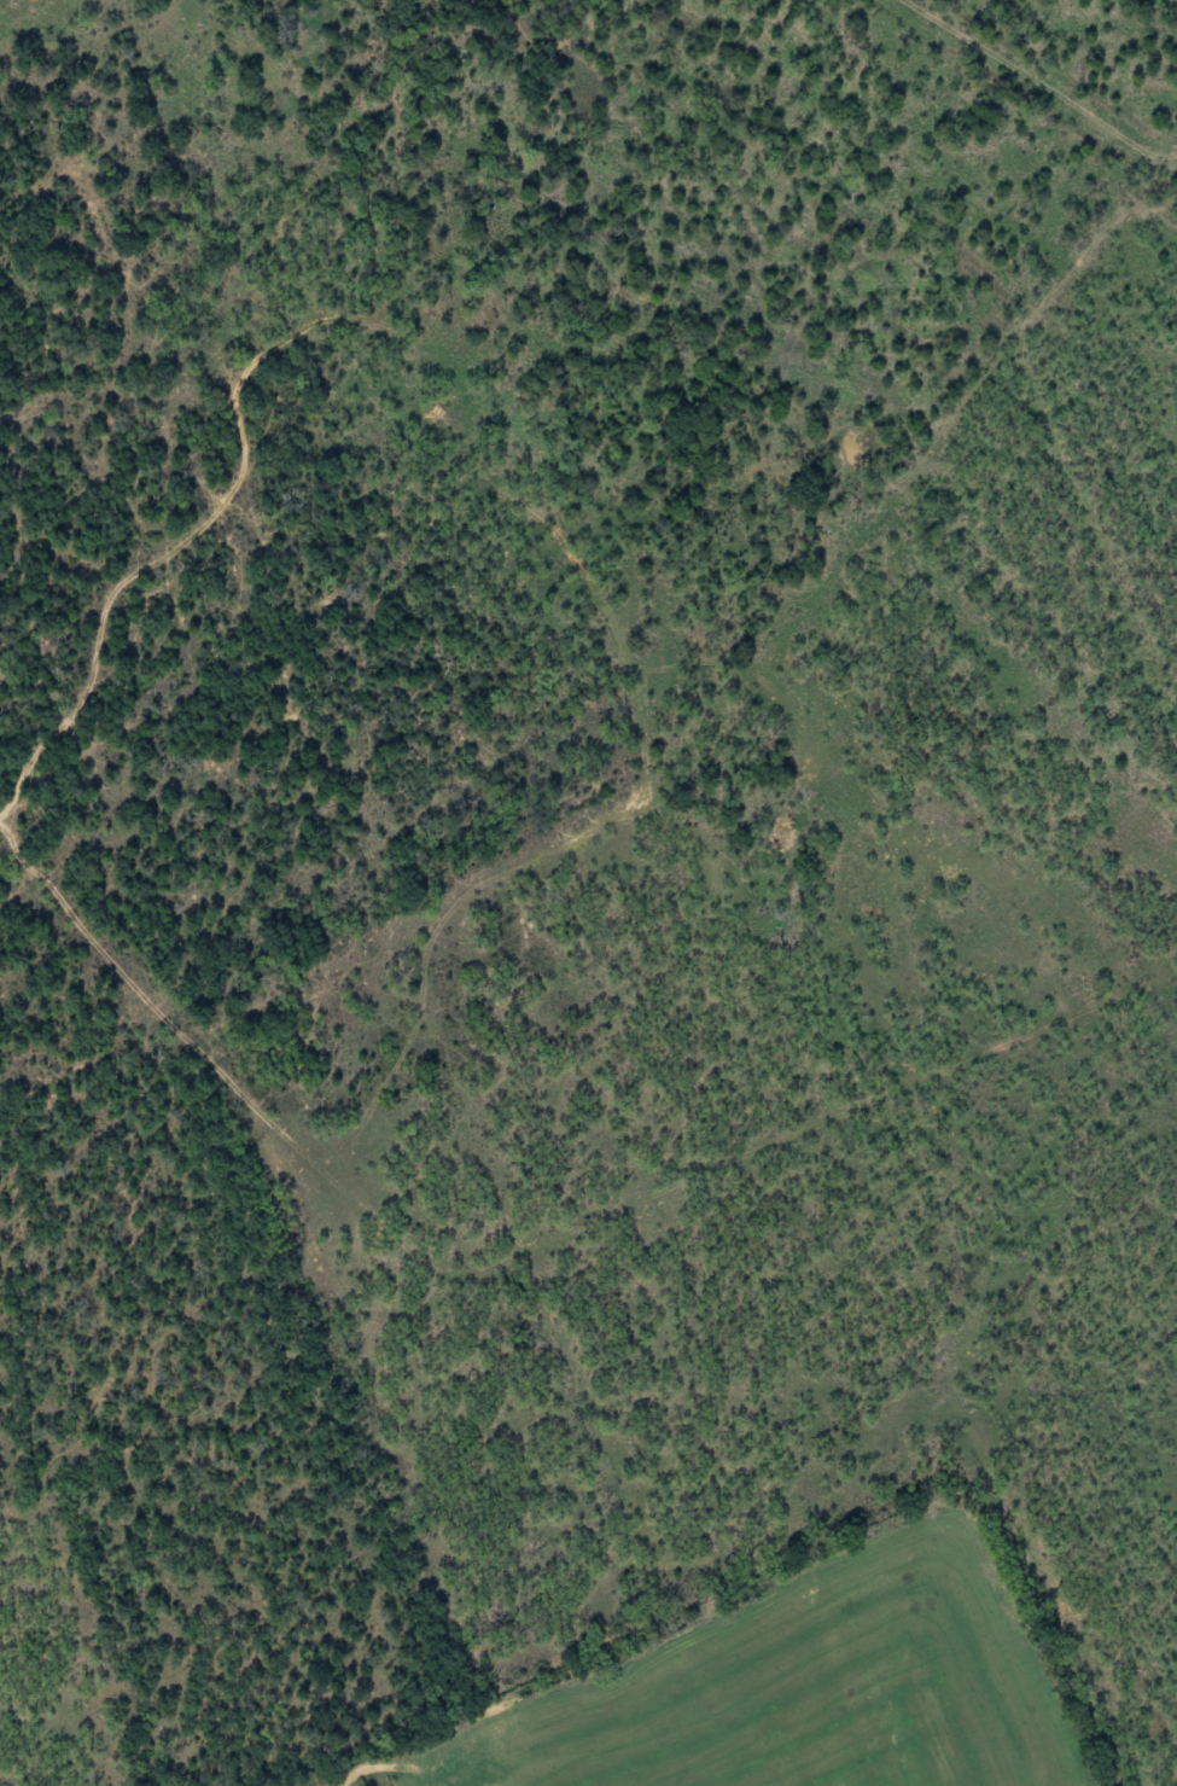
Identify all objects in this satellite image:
railway: (1054, 76)

